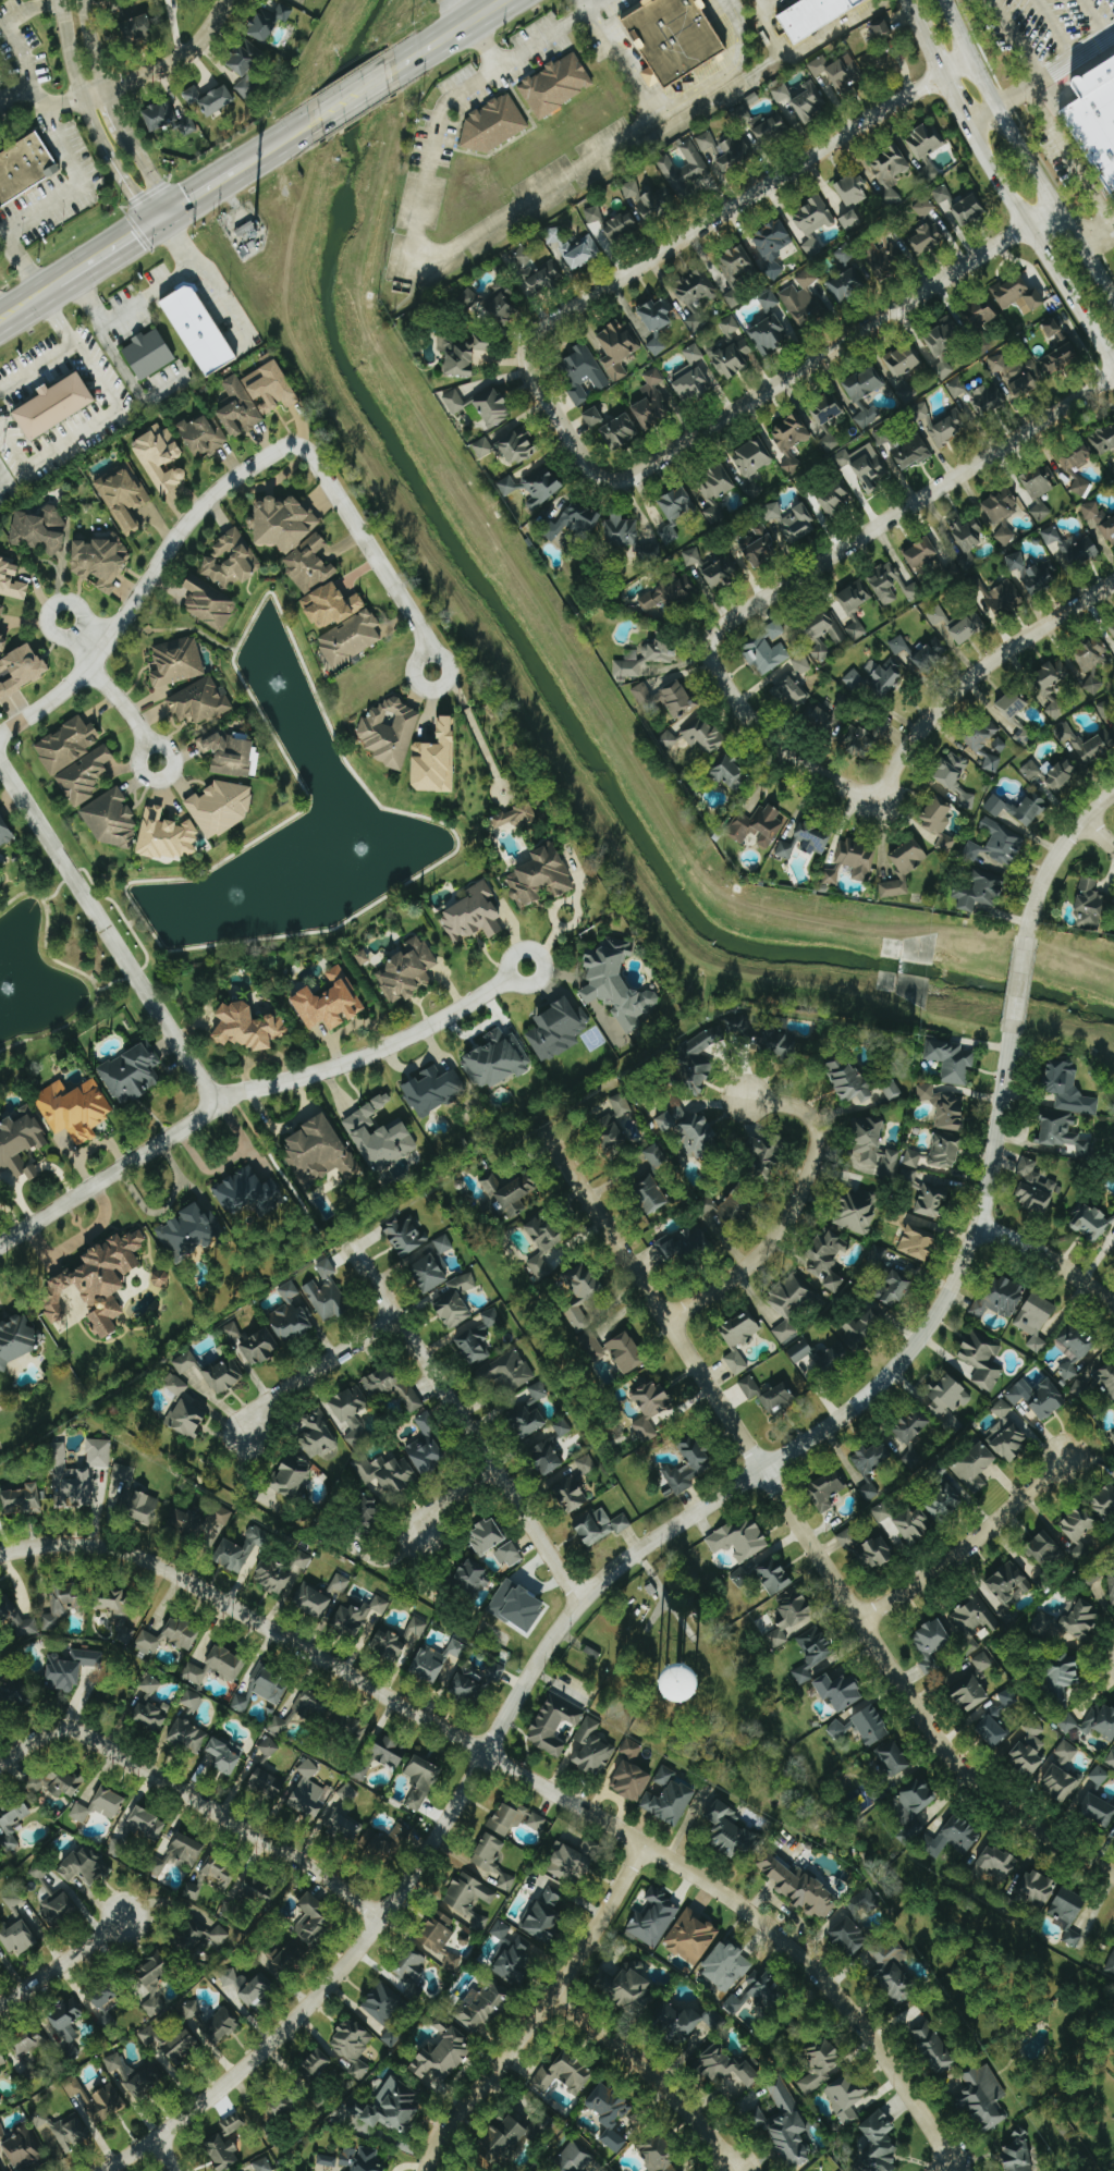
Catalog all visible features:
road: (468, 10)
building: (815, 15)
building: (270, 21)
road: (2, 23)
building: (882, 26)
building: (1109, 26)
building: (138, 28)
road: (453, 30)
building: (674, 37)
road: (1015, 38)
road: (13, 40)
road: (486, 44)
road: (818, 44)
road: (620, 61)
road: (760, 62)
road: (164, 65)
building: (246, 69)
building: (837, 72)
road: (1040, 75)
building: (556, 85)
building: (1100, 86)
road: (15, 91)
road: (353, 95)
building: (192, 97)
road: (452, 99)
building: (803, 99)
building: (217, 100)
road: (111, 110)
building: (160, 114)
road: (87, 119)
building: (757, 121)
building: (493, 124)
building: (186, 126)
building: (772, 128)
building: (707, 140)
building: (925, 142)
road: (274, 145)
road: (1024, 150)
road: (612, 152)
building: (735, 154)
road: (1068, 160)
building: (25, 168)
building: (684, 170)
building: (891, 172)
road: (209, 185)
road: (1002, 186)
building: (631, 189)
building: (853, 191)
building: (942, 194)
road: (61, 195)
road: (742, 198)
building: (654, 203)
building: (925, 207)
traffic signals: (172, 209)
building: (968, 209)
building: (593, 214)
road: (160, 217)
building: (815, 217)
building: (850, 219)
traffic signals: (149, 225)
building: (622, 226)
building: (926, 238)
road: (1100, 242)
building: (773, 246)
building: (812, 246)
building: (574, 247)
road: (109, 249)
building: (523, 257)
building: (738, 273)
road: (198, 277)
building: (541, 279)
road: (56, 283)
building: (1019, 294)
building: (467, 297)
building: (697, 297)
building: (803, 298)
road: (7, 300)
building: (769, 300)
road: (21, 305)
building: (502, 305)
building: (983, 314)
road: (58, 315)
building: (657, 316)
road: (119, 321)
building: (731, 326)
building: (1052, 327)
building: (199, 329)
building: (770, 335)
building: (943, 344)
road: (833, 346)
building: (616, 351)
building: (150, 353)
building: (465, 354)
building: (1061, 358)
building: (732, 359)
road: (36, 361)
building: (903, 361)
building: (583, 372)
building: (693, 376)
building: (1024, 378)
building: (272, 388)
building: (864, 388)
building: (956, 388)
road: (130, 392)
building: (987, 400)
building: (652, 402)
building: (49, 405)
building: (240, 407)
building: (828, 412)
building: (595, 417)
road: (559, 421)
building: (940, 425)
road: (86, 429)
building: (621, 432)
building: (203, 436)
building: (791, 440)
building: (1102, 440)
building: (830, 442)
building: (516, 446)
building: (483, 447)
building: (910, 450)
building: (752, 457)
building: (161, 458)
building: (842, 459)
building: (871, 470)
road: (2, 478)
building: (510, 486)
building: (542, 486)
building: (715, 491)
building: (1038, 493)
building: (123, 496)
building: (835, 500)
building: (677, 503)
building: (1000, 506)
building: (577, 519)
building: (1099, 520)
building: (792, 522)
building: (283, 524)
building: (40, 529)
building: (624, 531)
building: (669, 533)
building: (969, 535)
building: (1005, 535)
road: (367, 545)
building: (760, 545)
building: (1073, 547)
building: (922, 554)
building: (693, 556)
building: (100, 562)
building: (230, 562)
building: (1017, 562)
building: (310, 565)
road: (805, 569)
building: (722, 573)
building: (1038, 578)
building: (12, 580)
road: (144, 582)
building: (886, 584)
building: (914, 591)
building: (670, 596)
building: (1004, 598)
building: (209, 604)
building: (331, 606)
building: (855, 608)
building: (1, 613)
building: (968, 626)
road: (59, 631)
building: (1113, 631)
building: (823, 633)
road: (89, 638)
building: (352, 638)
building: (3, 643)
building: (768, 649)
building: (1112, 653)
building: (930, 654)
building: (650, 655)
building: (1091, 655)
building: (177, 662)
building: (801, 664)
building: (21, 671)
road: (976, 671)
building: (874, 679)
building: (1092, 684)
road: (425, 686)
building: (1051, 689)
building: (789, 691)
building: (666, 698)
building: (200, 702)
road: (121, 704)
building: (1012, 706)
building: (1106, 709)
building: (818, 716)
building: (391, 733)
building: (703, 734)
building: (982, 736)
building: (1024, 736)
building: (670, 740)
building: (859, 741)
building: (1097, 743)
building: (68, 745)
building: (999, 745)
road: (487, 751)
building: (232, 756)
building: (437, 760)
building: (991, 761)
building: (732, 773)
building: (1052, 774)
building: (85, 776)
road: (152, 777)
traffic signals: (877, 800)
building: (221, 808)
building: (1030, 809)
building: (515, 817)
building: (112, 821)
building: (938, 824)
building: (760, 826)
building: (5, 832)
road: (1097, 834)
building: (167, 836)
building: (813, 838)
building: (997, 844)
building: (785, 850)
building: (909, 857)
building: (856, 858)
road: (1052, 860)
building: (832, 875)
building: (541, 876)
building: (894, 888)
building: (979, 891)
building: (1091, 906)
building: (474, 916)
road: (109, 934)
building: (363, 957)
building: (408, 971)
road: (1017, 983)
road: (527, 984)
building: (617, 984)
building: (330, 1002)
building: (739, 1026)
building: (249, 1028)
building: (558, 1029)
building: (784, 1045)
building: (698, 1058)
building: (497, 1060)
building: (951, 1060)
building: (132, 1075)
building: (850, 1080)
road: (245, 1089)
building: (433, 1091)
building: (892, 1091)
building: (622, 1105)
building: (945, 1107)
building: (76, 1109)
building: (1066, 1109)
building: (694, 1130)
building: (379, 1136)
building: (613, 1138)
building: (21, 1143)
building: (874, 1146)
building: (320, 1152)
building: (939, 1152)
building: (656, 1154)
building: (767, 1156)
building: (1035, 1188)
building: (510, 1191)
building: (652, 1191)
building: (252, 1194)
building: (933, 1201)
building: (737, 1205)
building: (859, 1212)
road: (798, 1213)
building: (1090, 1222)
building: (406, 1234)
building: (683, 1242)
building: (918, 1242)
building: (444, 1243)
building: (546, 1243)
road: (1050, 1254)
building: (829, 1265)
building: (327, 1268)
building: (430, 1273)
building: (161, 1279)
building: (98, 1284)
building: (895, 1289)
building: (582, 1292)
building: (1002, 1297)
building: (327, 1299)
building: (457, 1301)
building: (789, 1308)
building: (291, 1314)
building: (1036, 1320)
building: (866, 1325)
building: (233, 1330)
building: (480, 1337)
building: (740, 1338)
building: (16, 1340)
building: (1075, 1344)
building: (261, 1346)
building: (591, 1346)
building: (627, 1351)
building: (820, 1358)
building: (982, 1359)
building: (185, 1362)
road: (316, 1370)
building: (512, 1371)
building: (1068, 1371)
building: (225, 1375)
building: (1094, 1382)
building: (176, 1384)
building: (394, 1387)
building: (751, 1387)
building: (948, 1397)
building: (1038, 1397)
building: (779, 1398)
building: (651, 1408)
building: (352, 1412)
building: (531, 1412)
building: (187, 1418)
road: (463, 1425)
building: (913, 1425)
building: (952, 1425)
building: (563, 1426)
building: (1113, 1433)
building: (1006, 1434)
building: (318, 1436)
building: (429, 1447)
building: (548, 1457)
building: (872, 1458)
building: (587, 1464)
building: (690, 1464)
building: (975, 1467)
building: (78, 1472)
building: (124, 1472)
building: (388, 1473)
building: (292, 1476)
building: (1, 1488)
building: (828, 1489)
building: (869, 1493)
building: (572, 1494)
building: (25, 1498)
road: (451, 1498)
building: (945, 1500)
building: (1104, 1500)
building: (139, 1505)
building: (368, 1512)
building: (883, 1512)
building: (204, 1521)
building: (1079, 1522)
building: (913, 1524)
building: (601, 1525)
road: (801, 1525)
building: (489, 1536)
building: (847, 1538)
building: (742, 1540)
road: (971, 1545)
building: (1044, 1548)
building: (238, 1550)
building: (1079, 1550)
building: (879, 1551)
building: (510, 1556)
building: (303, 1560)
building: (276, 1575)
building: (474, 1575)
building: (339, 1585)
building: (1008, 1589)
road: (588, 1597)
building: (313, 1600)
building: (118, 1603)
building: (63, 1604)
building: (518, 1606)
building: (359, 1616)
building: (793, 1616)
building: (971, 1619)
building: (17, 1620)
building: (1068, 1621)
building: (170, 1636)
building: (400, 1641)
building: (932, 1643)
building: (813, 1652)
building: (436, 1660)
building: (982, 1661)
building: (228, 1664)
building: (72, 1668)
building: (1065, 1671)
building: (195, 1673)
building: (0, 1684)
building: (150, 1684)
building: (474, 1684)
water tower: (676, 1685)
building: (262, 1689)
building: (842, 1691)
building: (970, 1693)
building: (13, 1695)
building: (193, 1702)
building: (149, 1715)
building: (332, 1716)
building: (1093, 1722)
building: (554, 1725)
building: (872, 1726)
building: (837, 1729)
building: (993, 1731)
building: (188, 1735)
building: (269, 1747)
building: (593, 1749)
building: (633, 1749)
building: (1029, 1750)
building: (391, 1752)
building: (1066, 1752)
building: (225, 1756)
building: (894, 1757)
building: (1111, 1758)
road: (524, 1771)
building: (665, 1776)
building: (1099, 1776)
building: (423, 1780)
building: (632, 1780)
building: (57, 1782)
building: (1060, 1783)
building: (266, 1784)
building: (308, 1792)
road: (195, 1798)
building: (670, 1803)
building: (100, 1805)
building: (915, 1807)
building: (1098, 1810)
building: (506, 1818)
building: (14, 1820)
building: (537, 1822)
building: (148, 1824)
building: (344, 1828)
building: (730, 1829)
building: (401, 1833)
building: (956, 1836)
building: (378, 1845)
building: (118, 1848)
building: (186, 1849)
building: (492, 1862)
building: (571, 1864)
building: (83, 1866)
building: (221, 1869)
building: (39, 1871)
building: (801, 1888)
building: (1037, 1888)
building: (258, 1891)
building: (470, 1898)
building: (13, 1899)
building: (867, 1901)
building: (59, 1908)
building: (231, 1911)
building: (1068, 1913)
building: (546, 1917)
building: (656, 1918)
building: (314, 1919)
building: (502, 1929)
building: (207, 1936)
building: (850, 1936)
building: (19, 1937)
building: (693, 1937)
building: (441, 1939)
building: (284, 1955)
building: (515, 1961)
building: (0, 1962)
building: (724, 1962)
building: (1111, 1964)
road: (62, 1965)
building: (412, 1970)
building: (895, 1970)
building: (155, 1980)
building: (246, 1987)
building: (634, 1990)
building: (767, 1990)
building: (106, 1996)
building: (485, 2008)
building: (189, 2010)
building: (387, 2010)
road: (546, 2013)
building: (685, 2022)
building: (66, 2024)
building: (221, 2026)
building: (150, 2037)
building: (29, 2045)
building: (182, 2047)
building: (354, 2047)
building: (934, 2047)
building: (443, 2058)
building: (1, 2061)
building: (319, 2063)
building: (730, 2065)
building: (821, 2065)
building: (566, 2074)
building: (135, 2076)
road: (656, 2076)
building: (984, 2095)
building: (845, 2098)
building: (0, 2101)
building: (394, 2107)
building: (615, 2115)
building: (81, 2117)
building: (759, 2118)
building: (789, 2126)
building: (2, 2134)
building: (505, 2142)
building: (227, 2144)
building: (880, 2144)
building: (22, 2150)
building: (1019, 2152)
road: (166, 2155)
building: (662, 2155)
building: (362, 2159)
building: (574, 2159)
building: (264, 2164)
road: (943, 2164)
building: (0, 2170)

